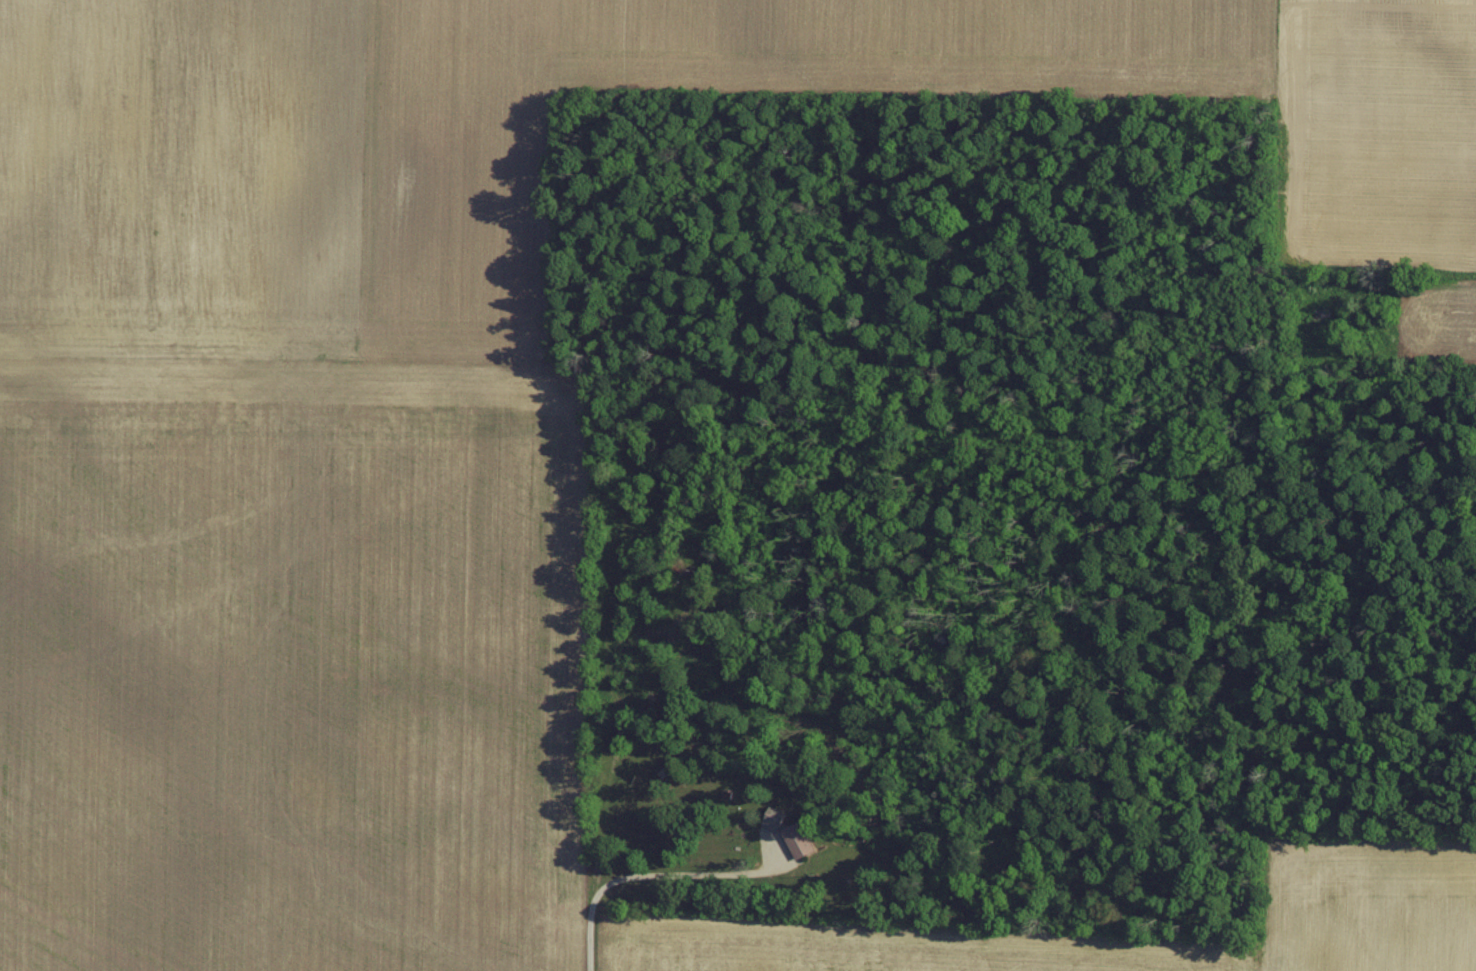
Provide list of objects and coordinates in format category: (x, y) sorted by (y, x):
road: (648, 874)

